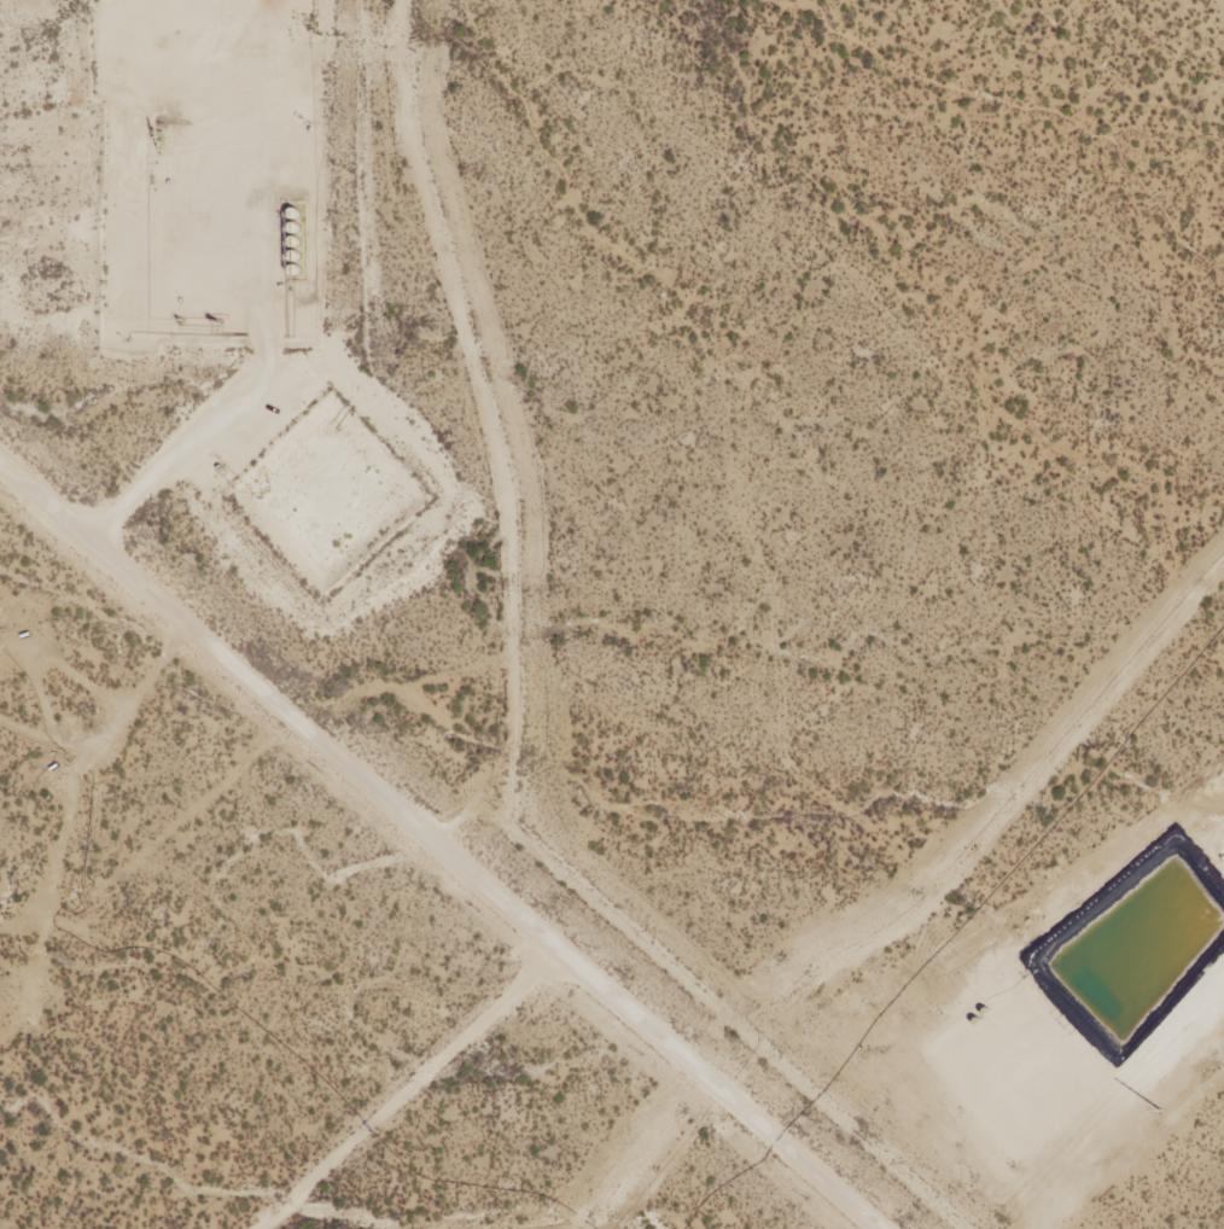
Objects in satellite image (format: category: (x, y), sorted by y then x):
road: (188, 432)
road: (438, 844)

